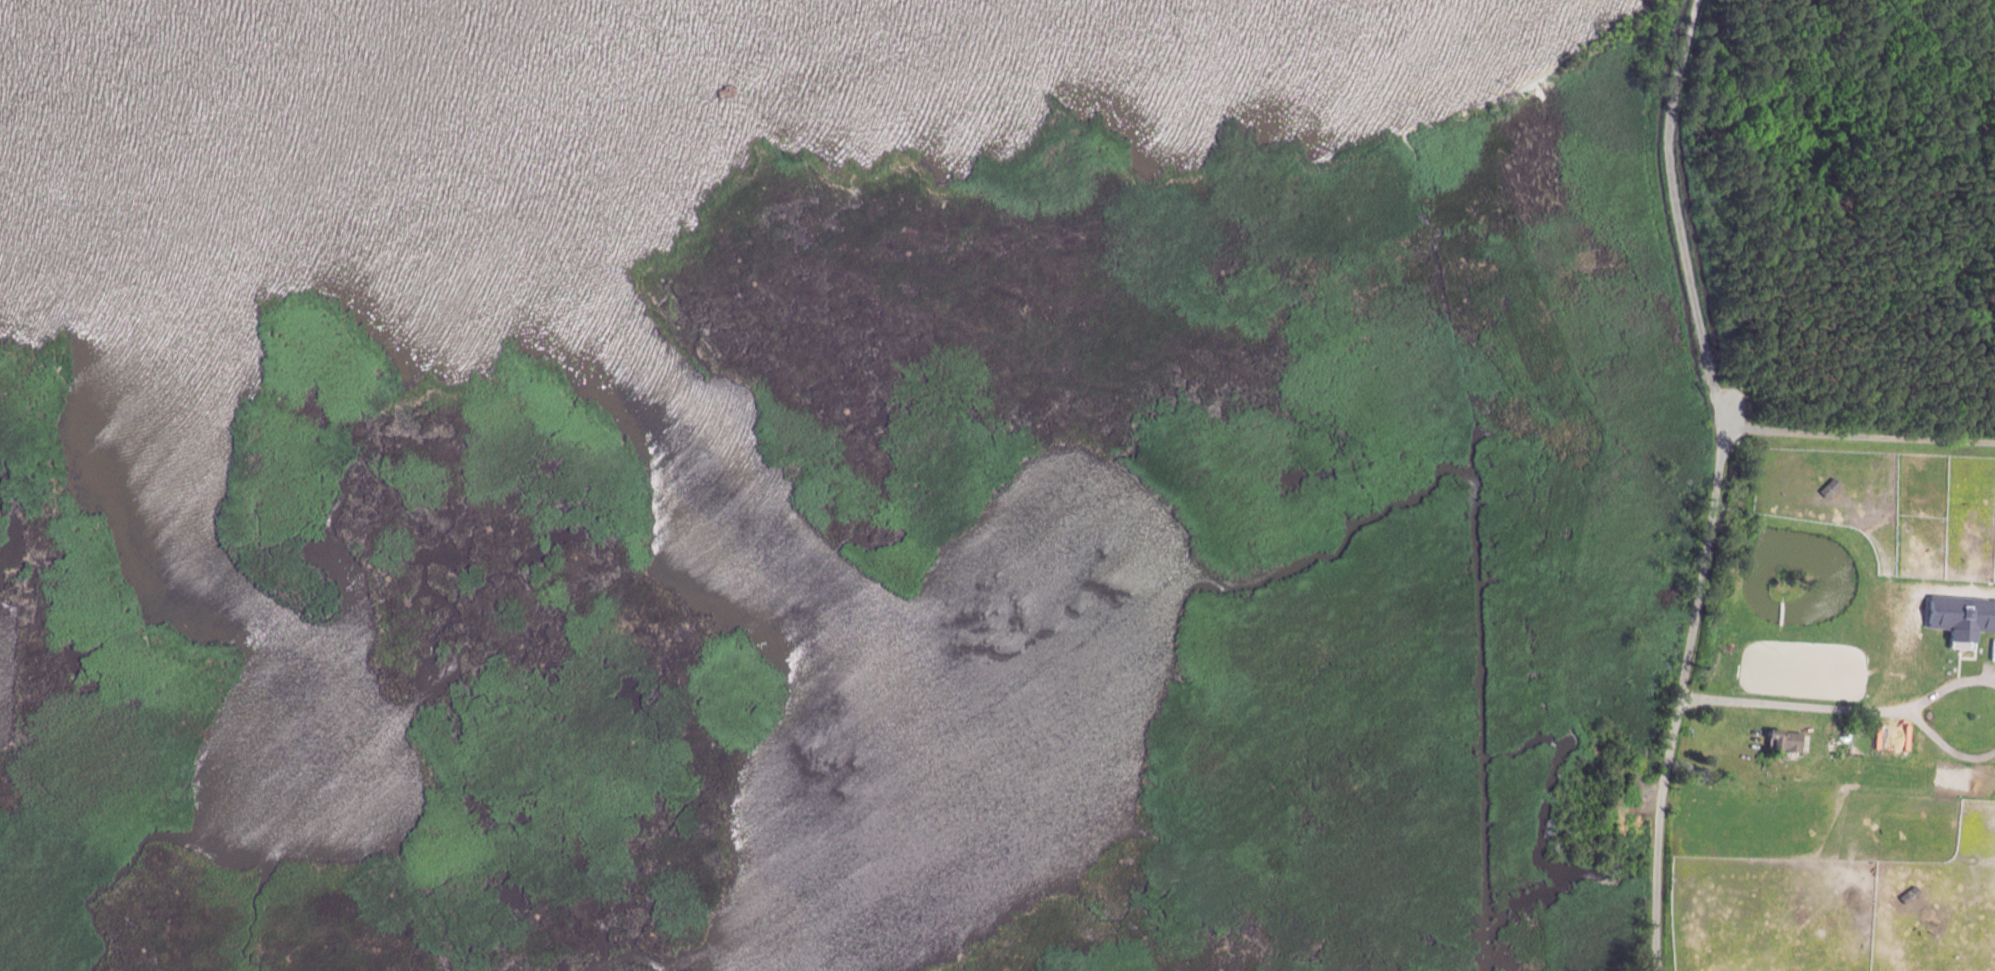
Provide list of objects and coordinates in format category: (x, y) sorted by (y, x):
road: (1676, 210)
road: (1860, 438)
building: (1960, 617)
road: (1947, 688)
road: (1680, 694)
road: (1793, 707)
building: (1785, 739)
building: (1832, 743)
road: (1946, 748)

